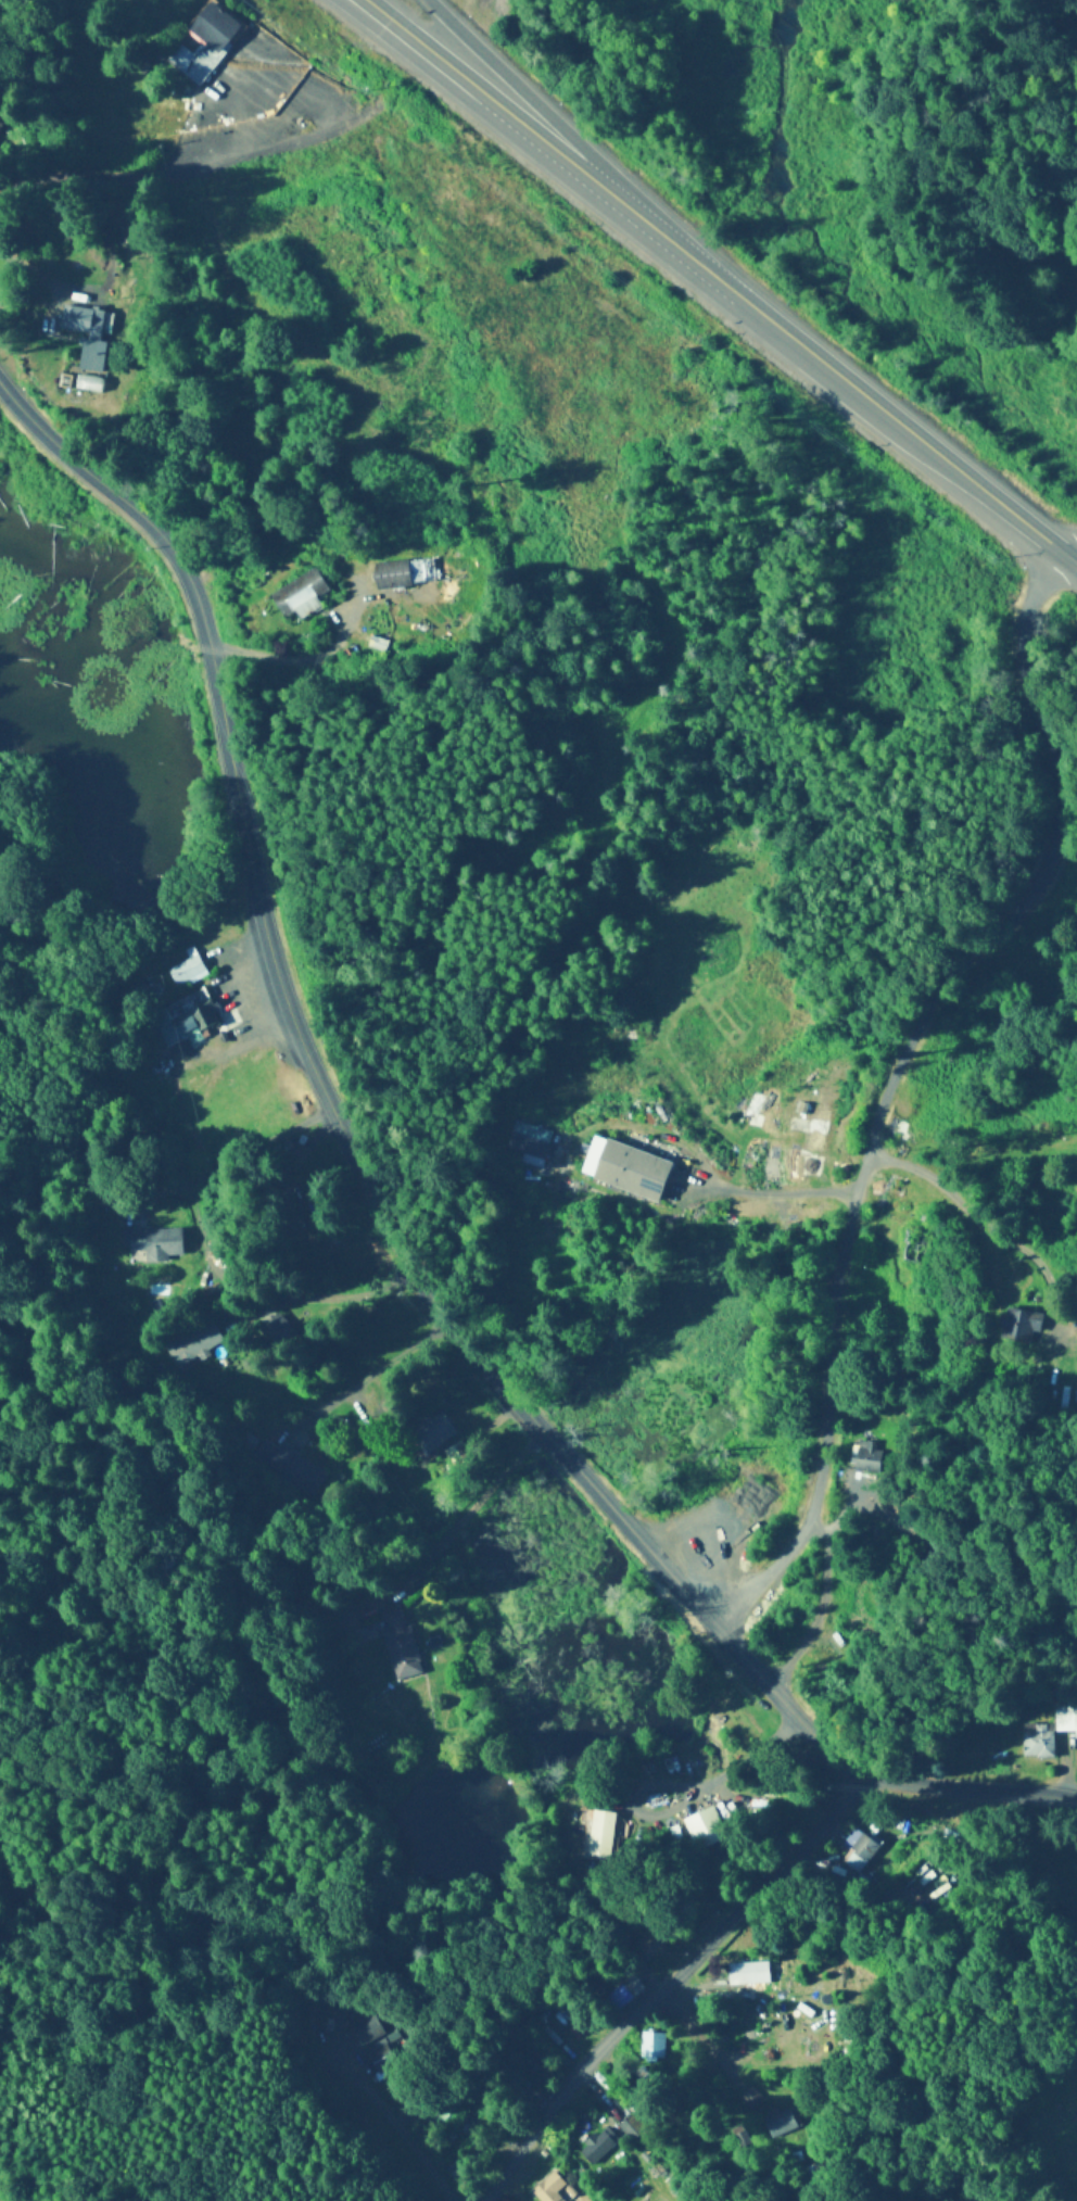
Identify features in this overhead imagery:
road: (379, 14)
road: (362, 15)
building: (204, 46)
parking lot: (256, 113)
road: (542, 118)
road: (530, 132)
road: (101, 176)
road: (187, 283)
building: (278, 291)
building: (90, 333)
road: (869, 403)
building: (403, 574)
building: (304, 595)
road: (165, 738)
building: (189, 967)
road: (1023, 986)
parking lot: (244, 1016)
building: (189, 1020)
road: (899, 1066)
road: (256, 1111)
building: (533, 1141)
building: (632, 1169)
road: (387, 1228)
building: (154, 1243)
building: (915, 1247)
building: (211, 1294)
building: (1025, 1327)
building: (276, 1331)
building: (194, 1345)
road: (378, 1370)
building: (438, 1430)
building: (458, 1456)
building: (869, 1458)
building: (287, 1471)
road: (457, 1521)
building: (400, 1645)
building: (816, 1683)
building: (1049, 1735)
building: (700, 1830)
building: (601, 1836)
building: (854, 1855)
building: (652, 1941)
building: (748, 1979)
road: (673, 1994)
building: (724, 2003)
building: (376, 2031)
road: (710, 2038)
building: (652, 2048)
building: (383, 2062)
building: (534, 2064)
building: (750, 2100)
building: (782, 2122)
building: (630, 2129)
building: (596, 2146)
building: (547, 2188)

